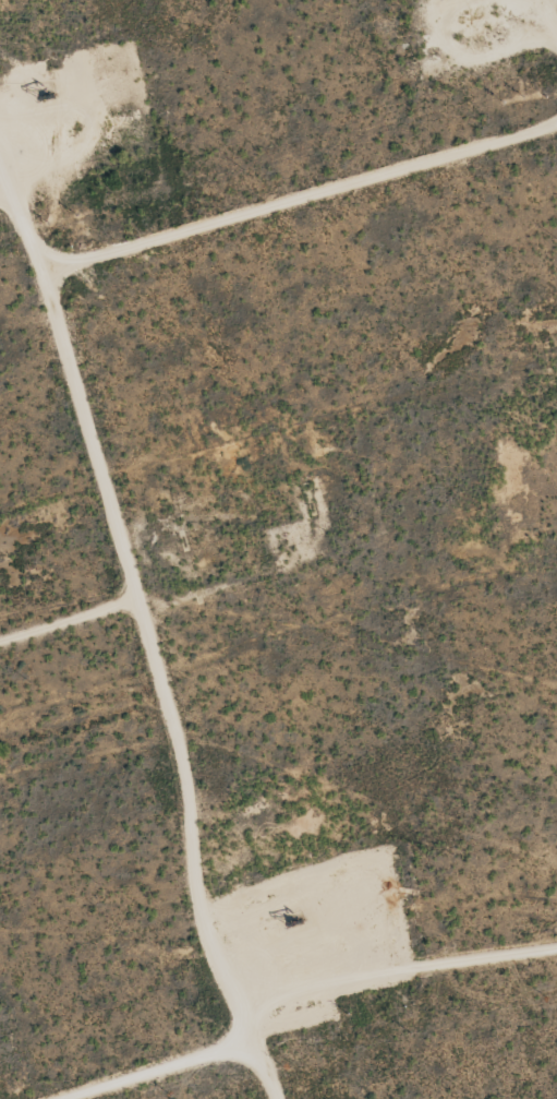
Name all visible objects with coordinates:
petroleum well: (38, 92)
road: (303, 196)
road: (149, 644)
petroleum well: (287, 922)

